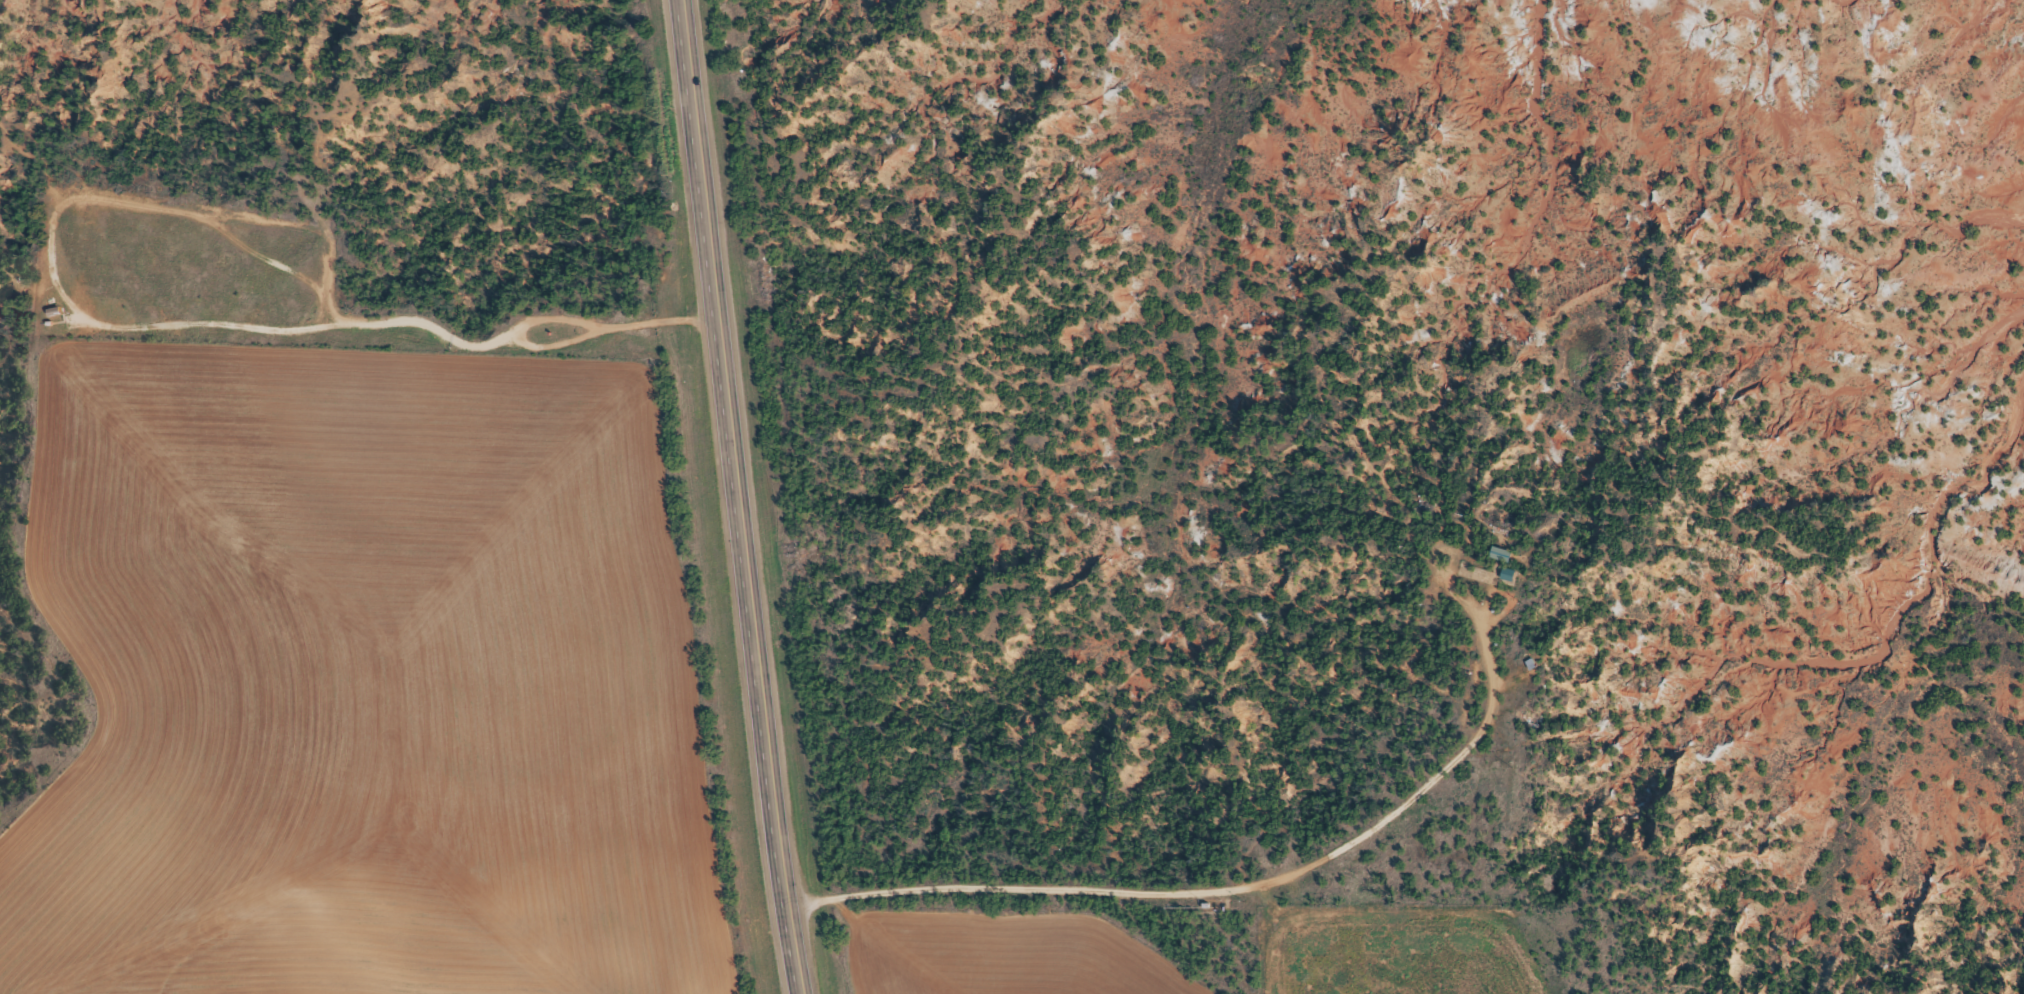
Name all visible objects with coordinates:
road: (734, 497)
building: (1496, 554)

